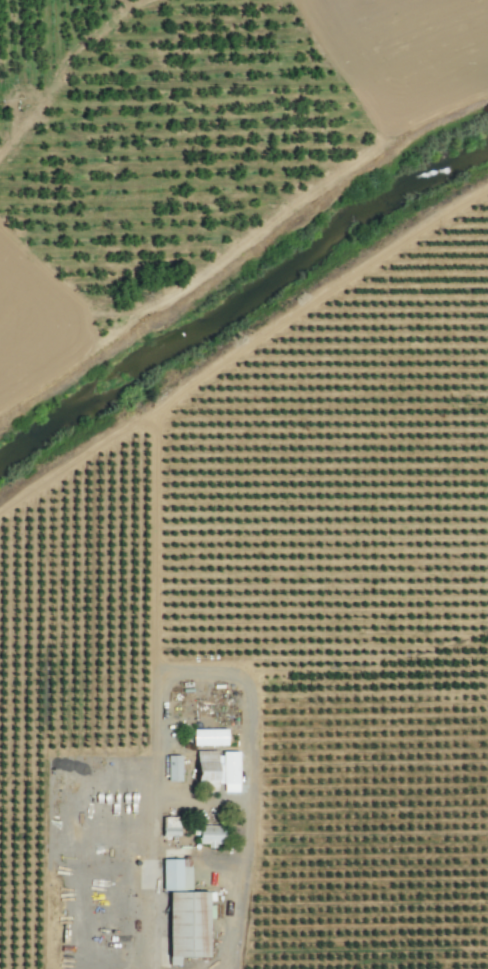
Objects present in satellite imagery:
road: (230, 674)
building: (208, 736)
building: (216, 768)
building: (173, 769)
building: (170, 826)
building: (210, 834)
building: (183, 912)
road: (123, 942)
road: (158, 946)

